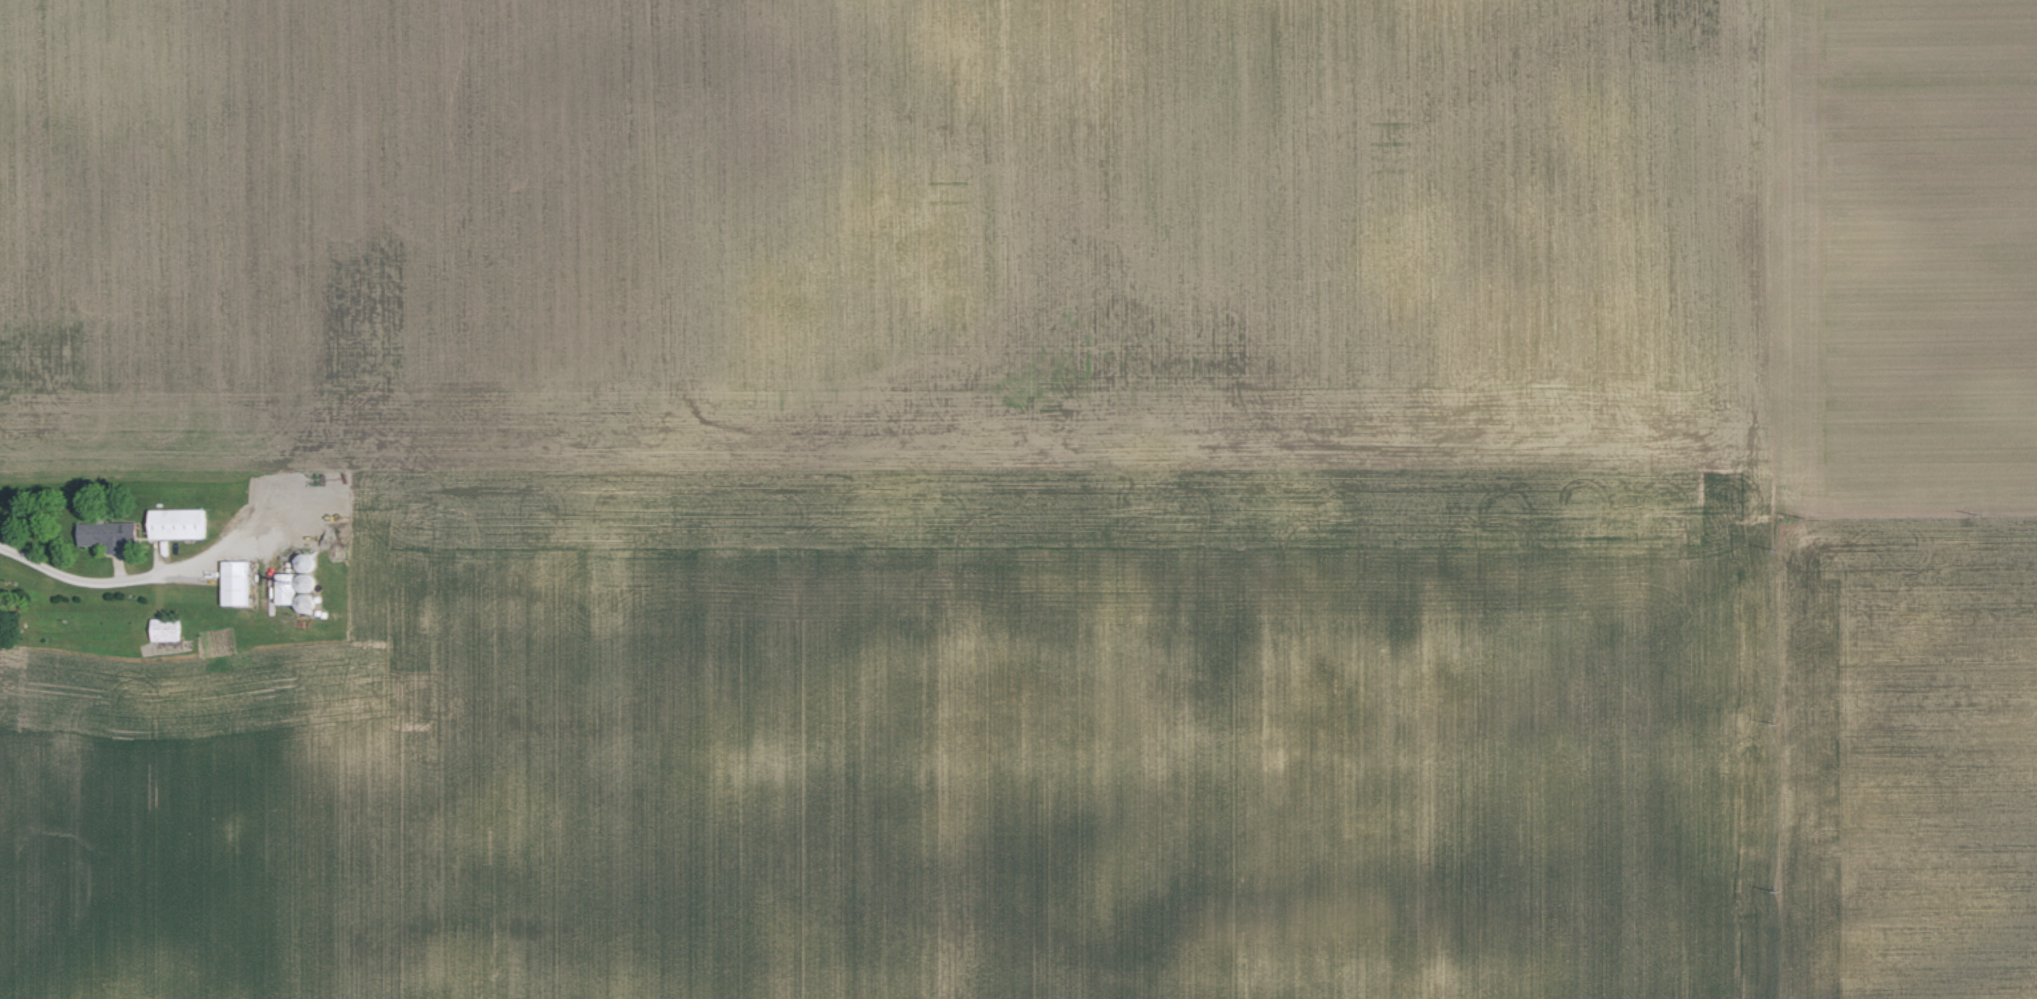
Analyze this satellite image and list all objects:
building: (176, 523)
building: (106, 534)
road: (129, 580)
building: (234, 582)
building: (164, 629)

